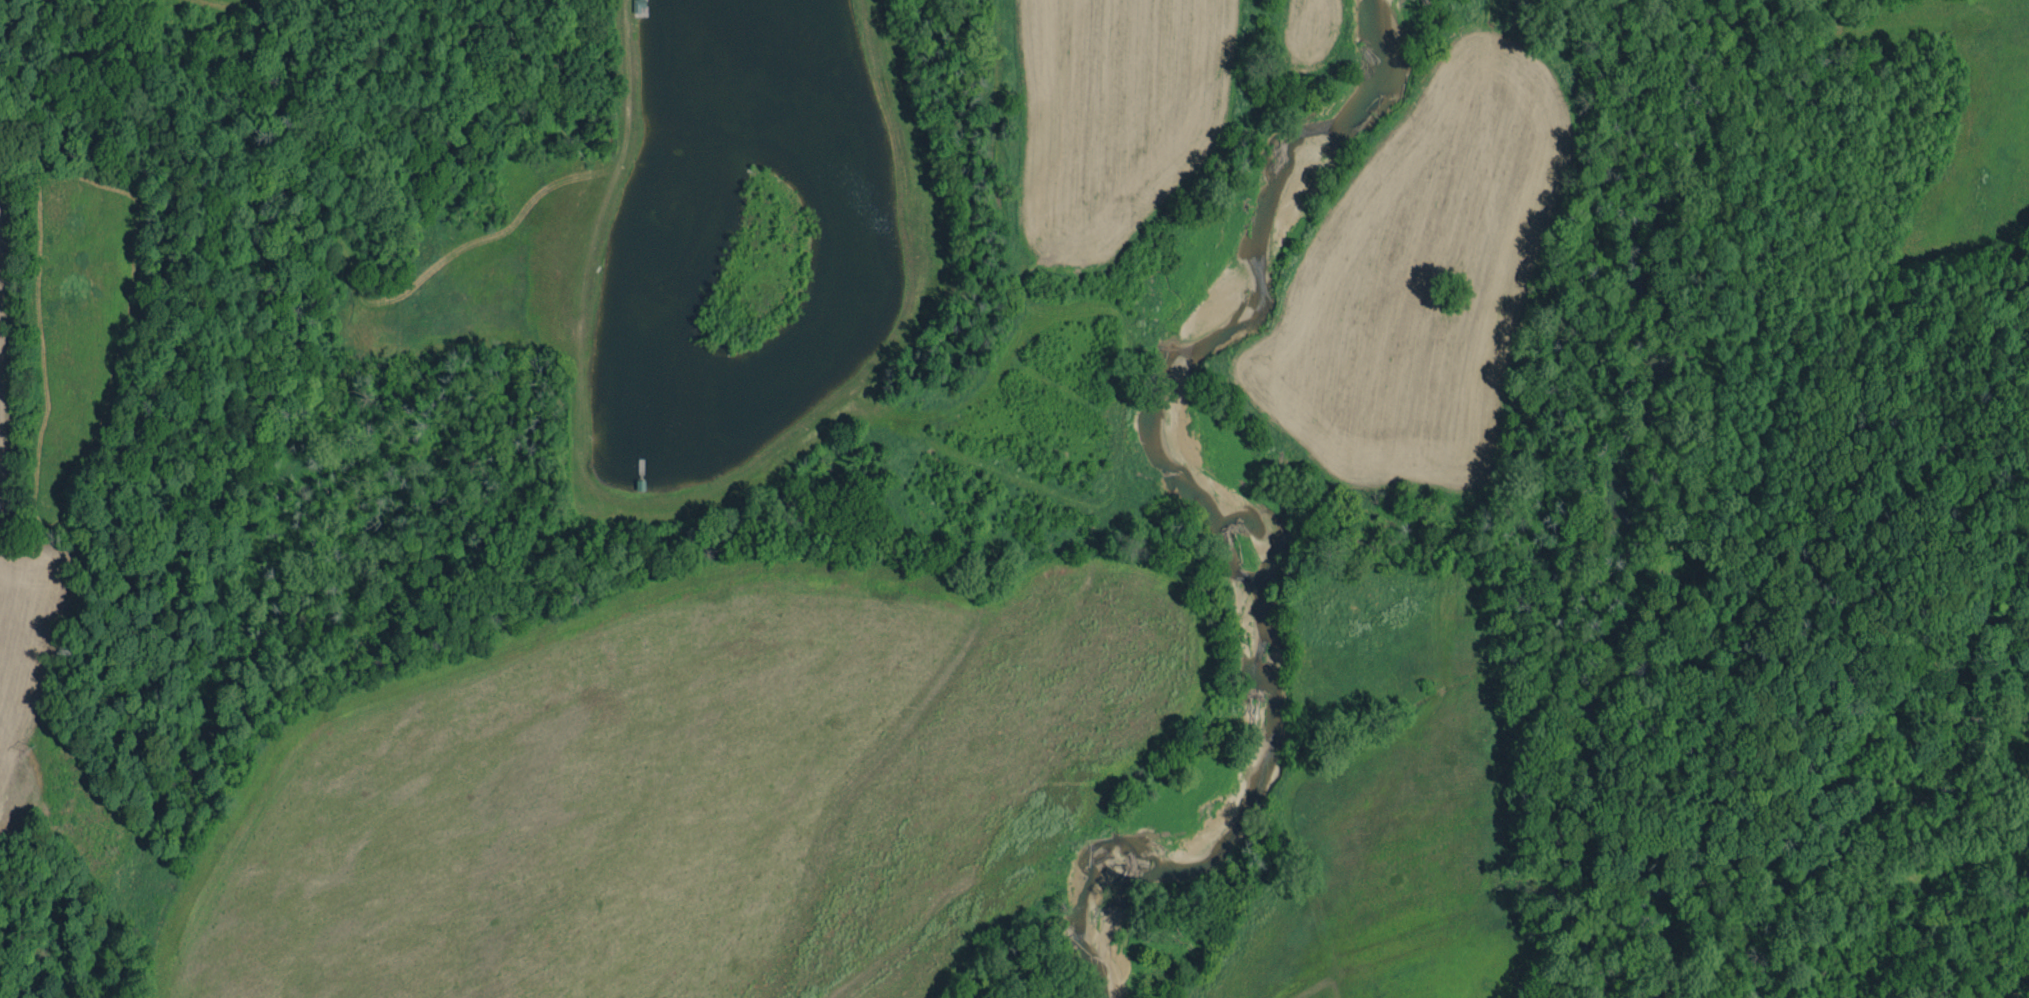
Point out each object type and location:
river: (1209, 520)
power tower: (26, 750)

